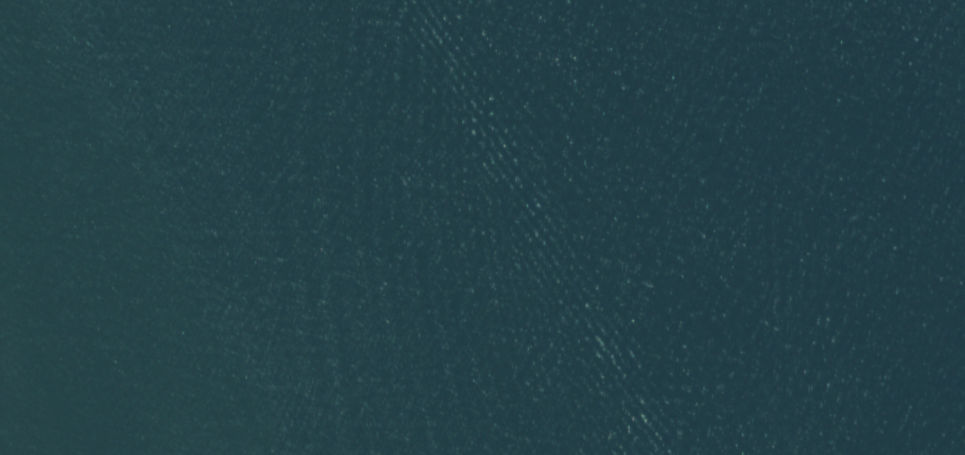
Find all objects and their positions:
river: (739, 227)

